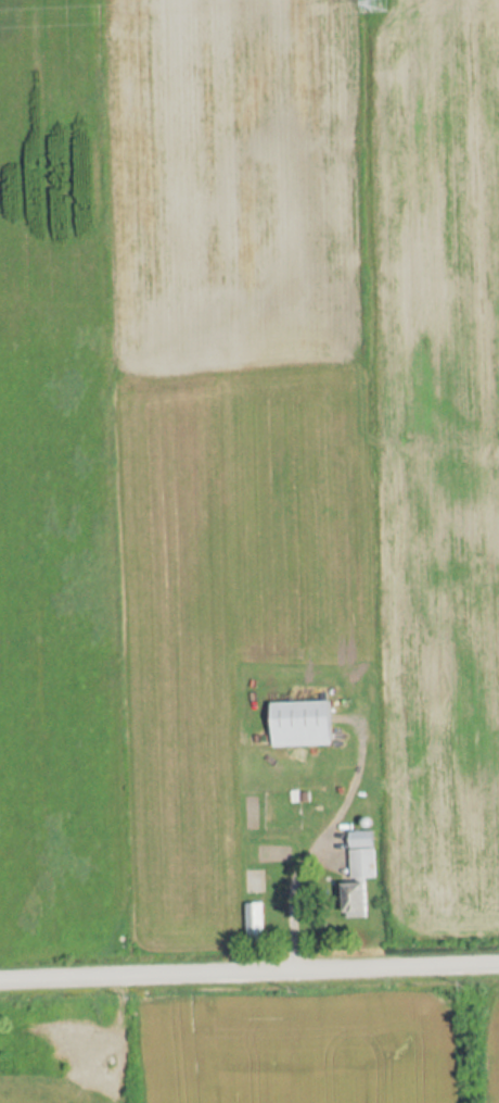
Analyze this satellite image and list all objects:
power tower: (376, 3)
building: (303, 723)
building: (362, 855)
building: (356, 900)
building: (253, 922)
road: (250, 968)

